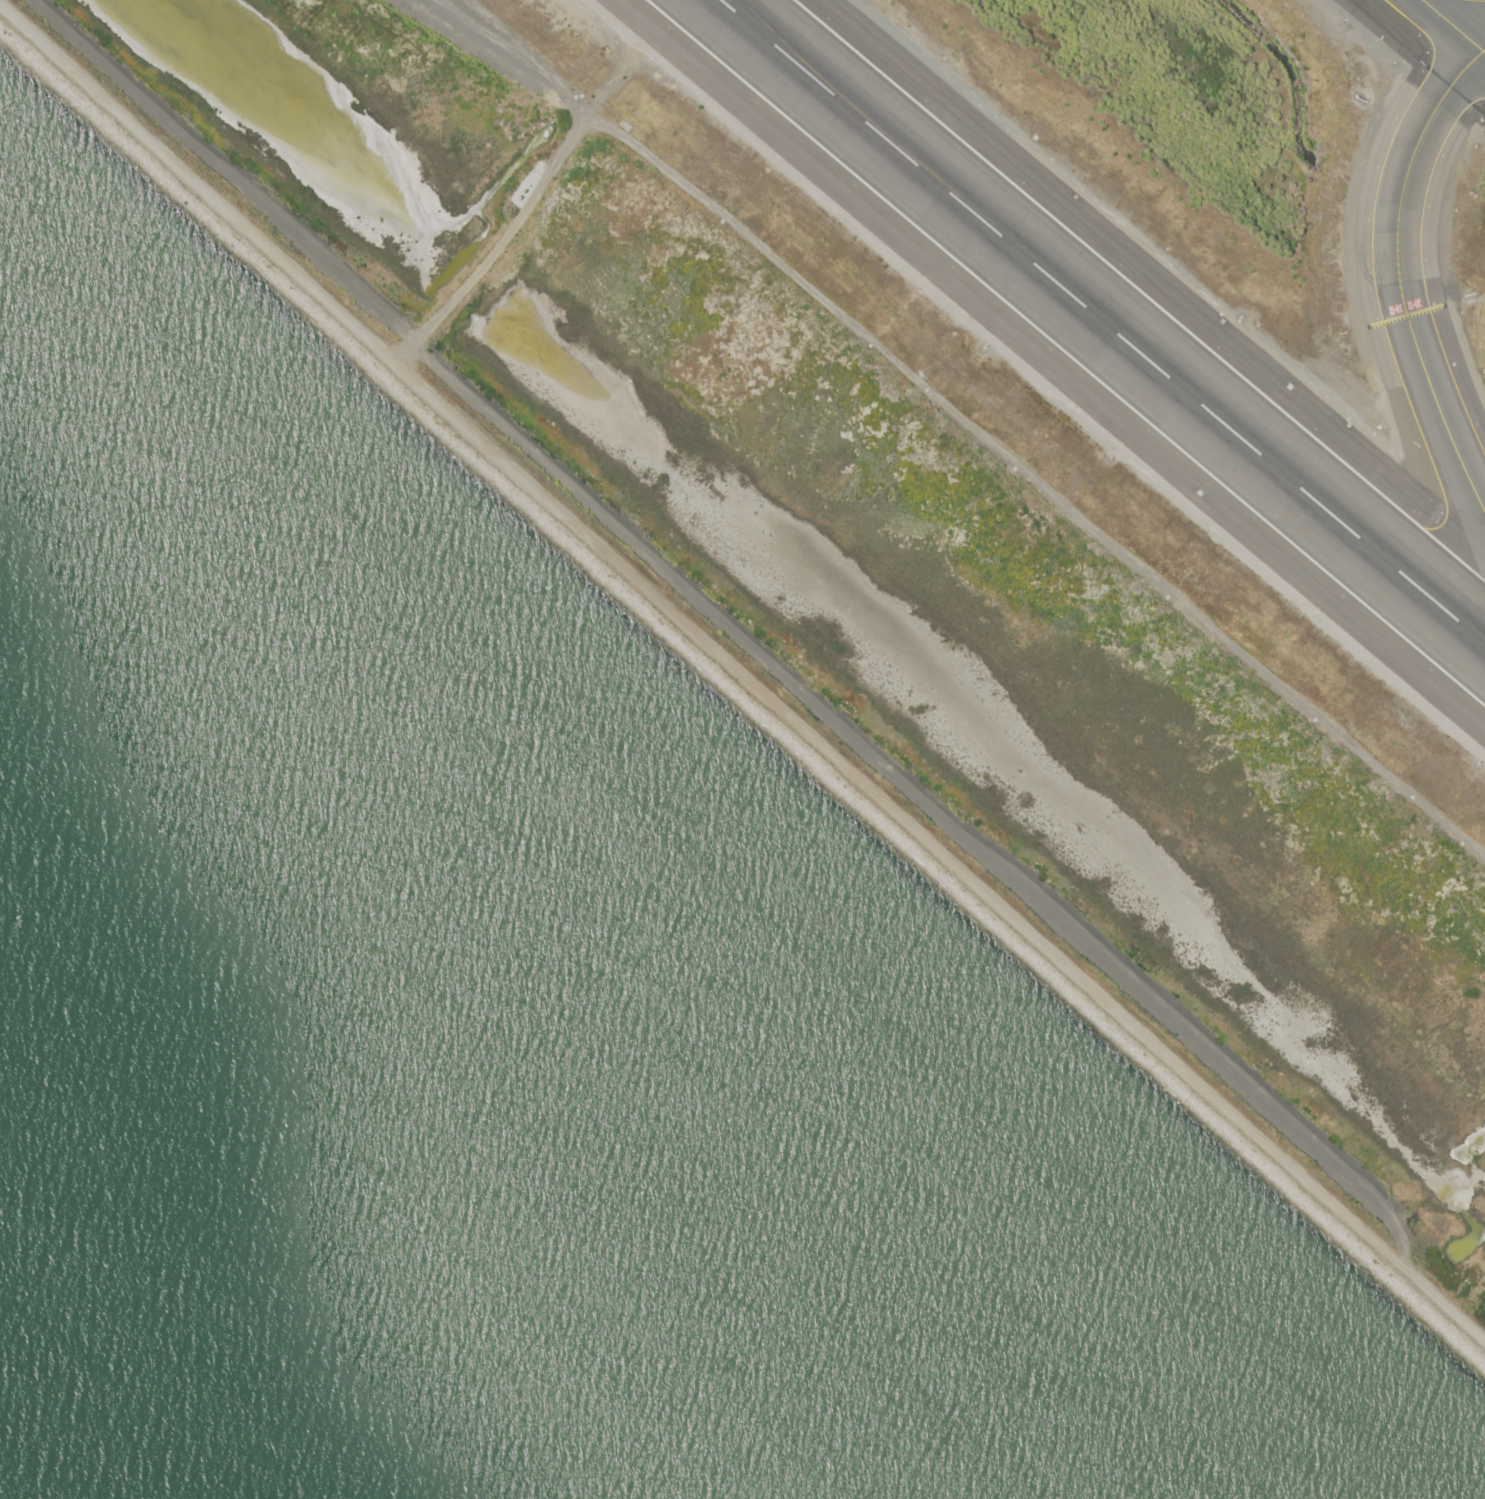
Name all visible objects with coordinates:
airport taxiway: (1471, 1)
airport taxiway: (1453, 26)
airport taxiway: (1483, 49)
airport taxiway: (797, 55)
airport taxiway: (1399, 276)
airport runway: (1103, 321)
airport: (975, 457)

